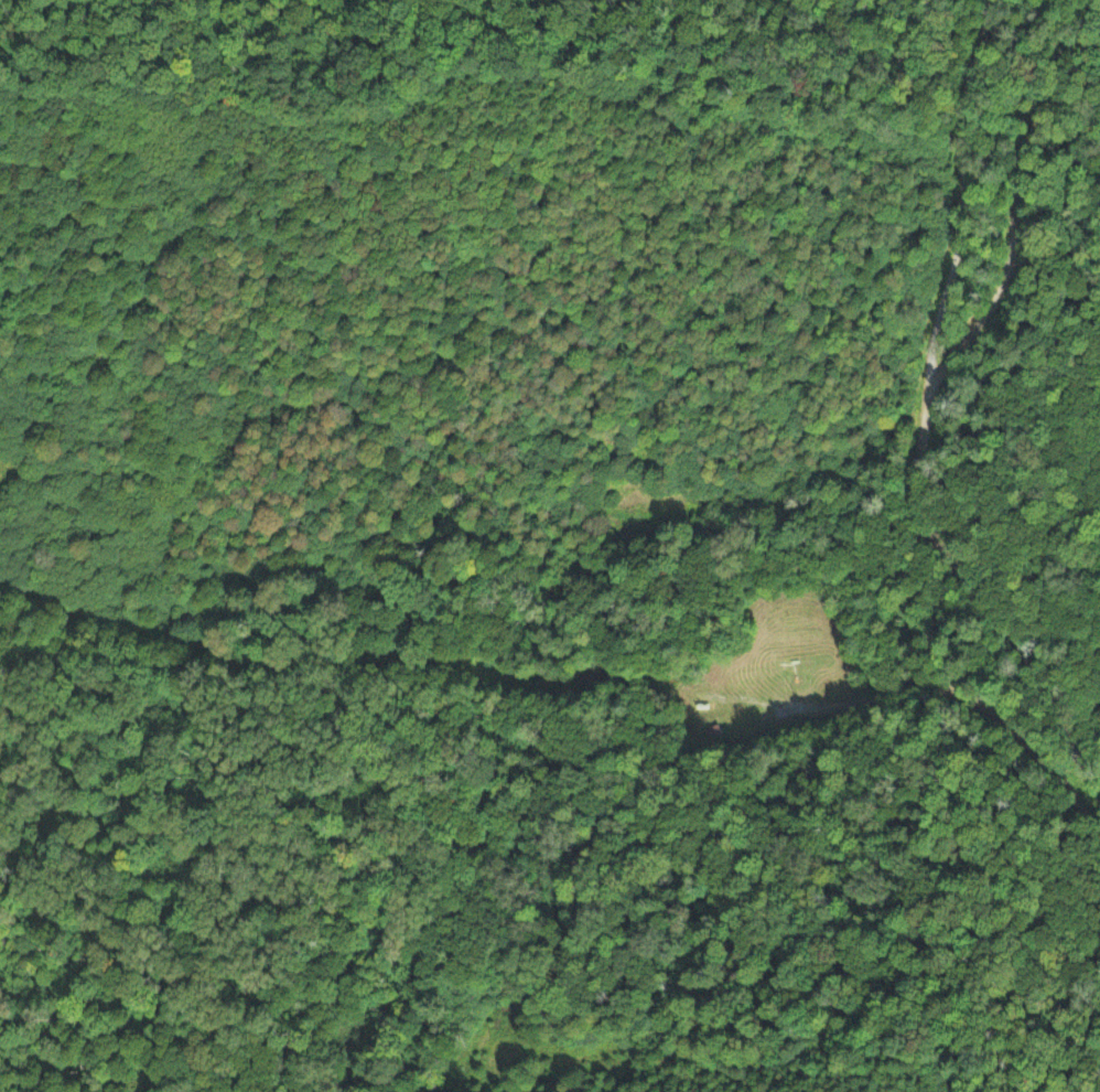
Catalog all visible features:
road: (1024, 188)
road: (931, 419)
road: (935, 699)

